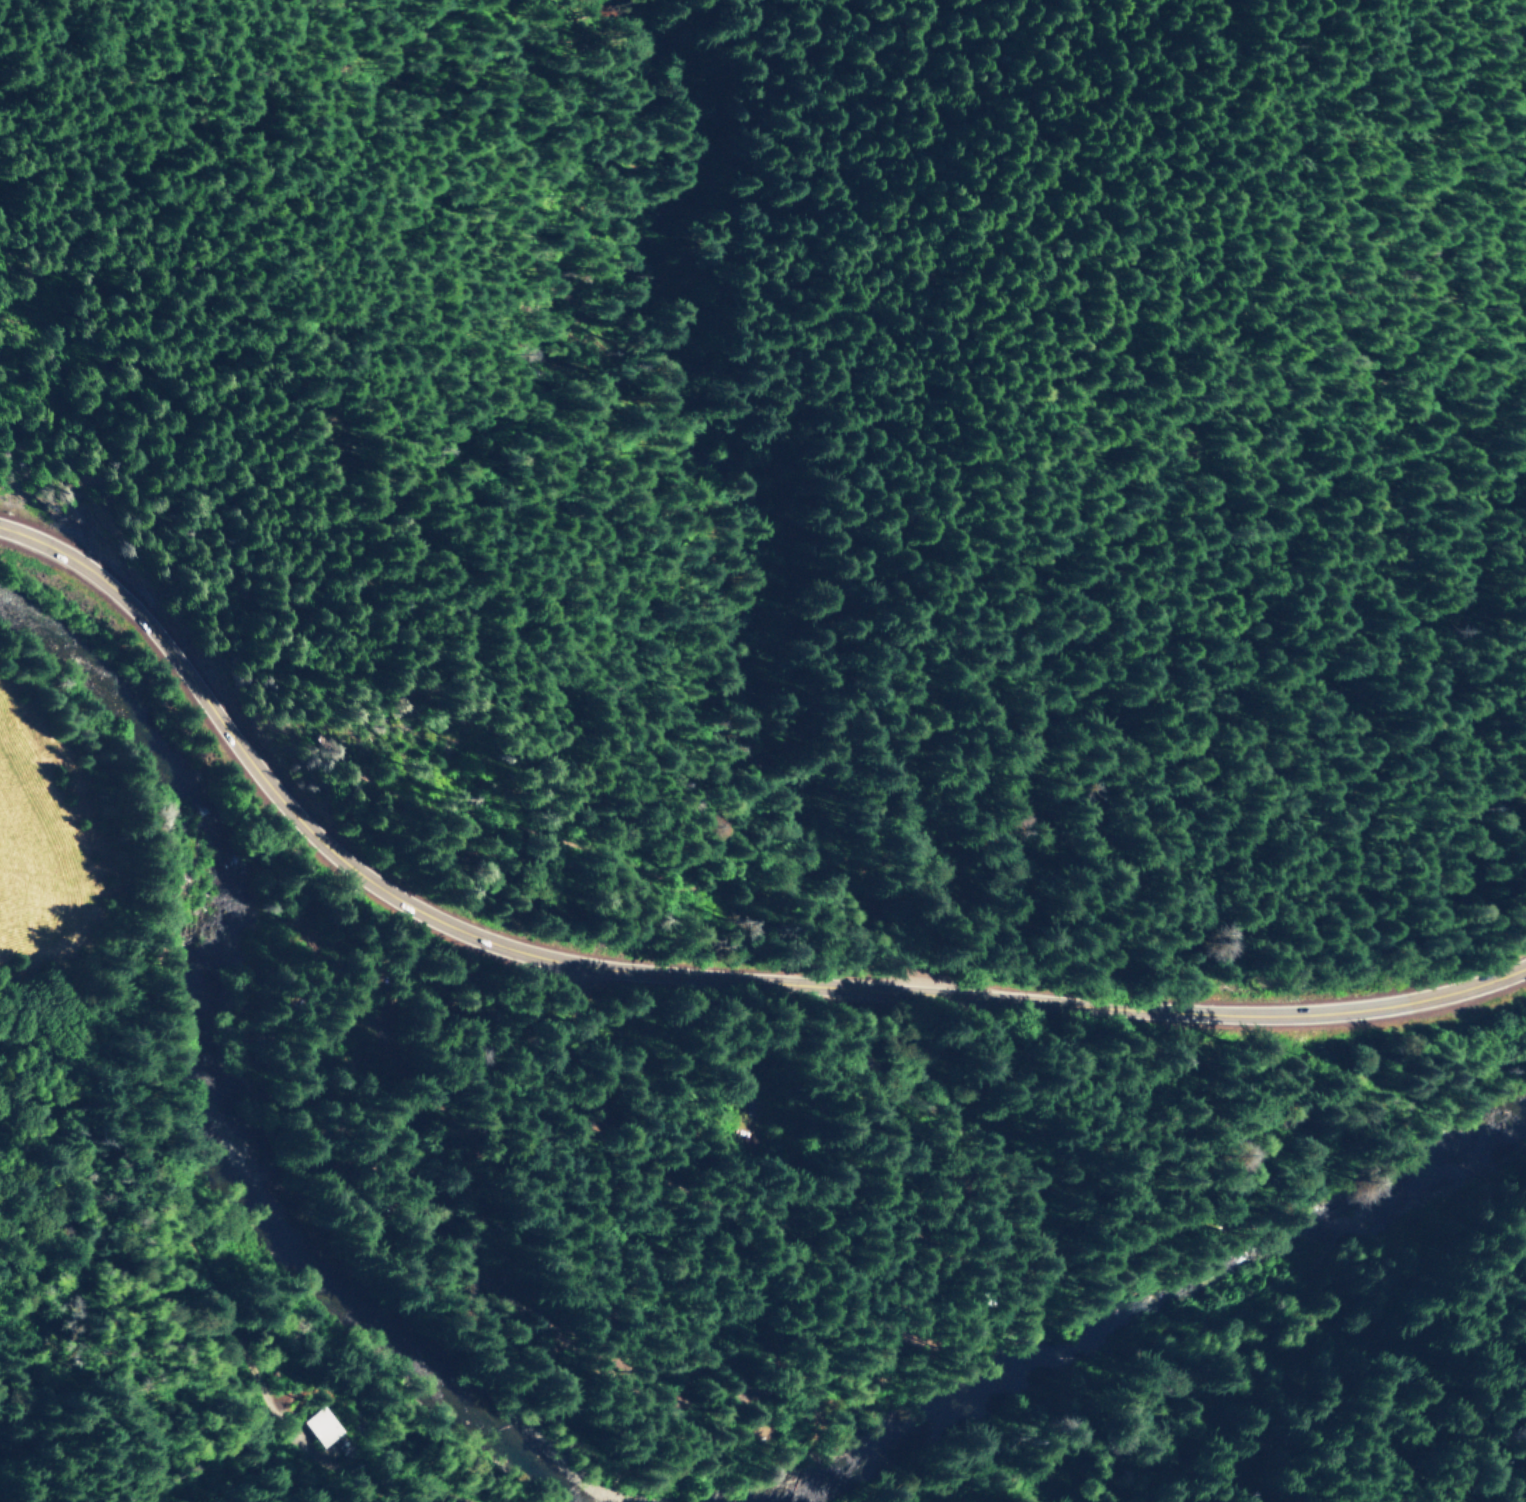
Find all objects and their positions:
road: (1175, 742)
road: (433, 829)
road: (837, 869)
road: (552, 870)
road: (882, 912)
parking lot: (911, 971)
road: (677, 974)
river: (222, 1109)
river: (1139, 1311)
road: (633, 1375)
road: (1410, 1406)
road: (222, 1426)
building: (319, 1426)

